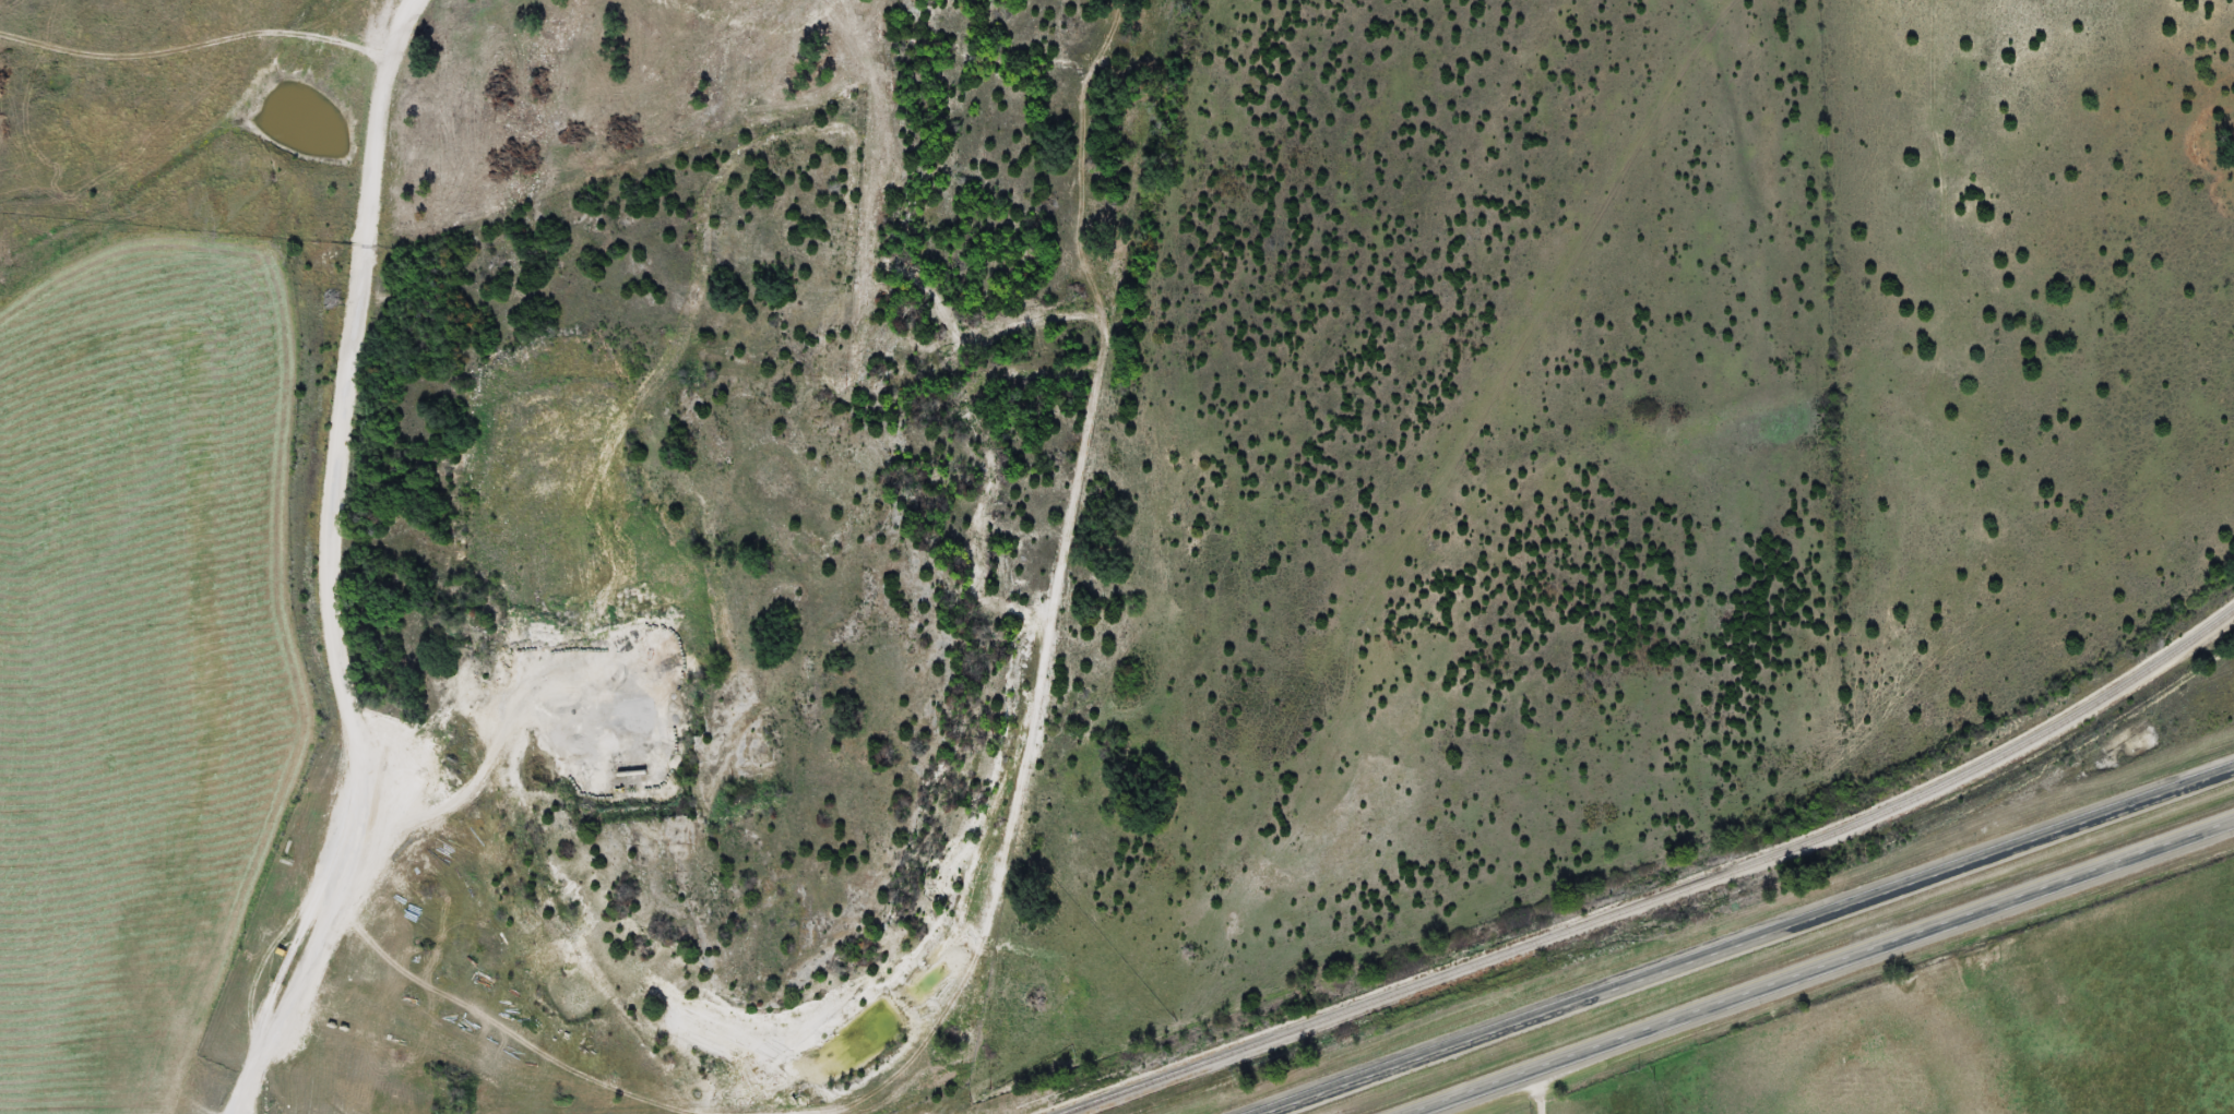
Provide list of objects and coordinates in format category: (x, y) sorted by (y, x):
railway: (1663, 895)
road: (1750, 943)
road: (1821, 968)
road: (1538, 1091)

